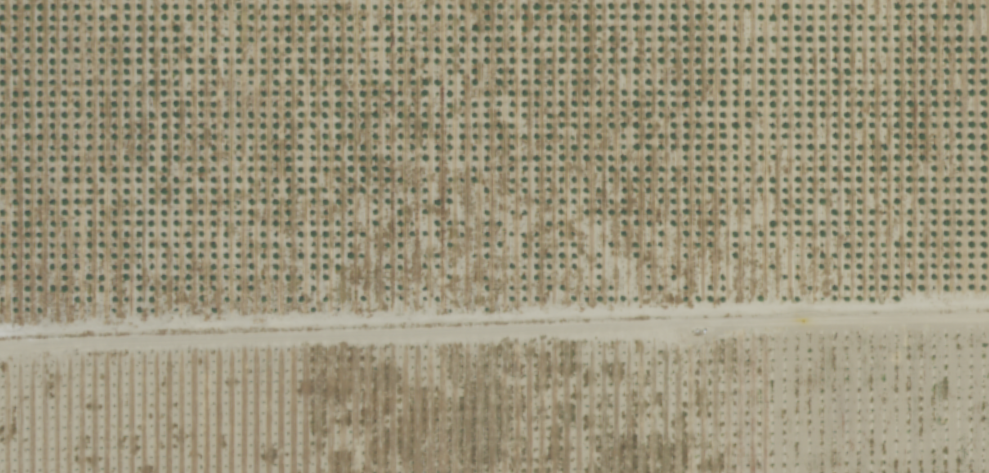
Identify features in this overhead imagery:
crop: (494, 236)

